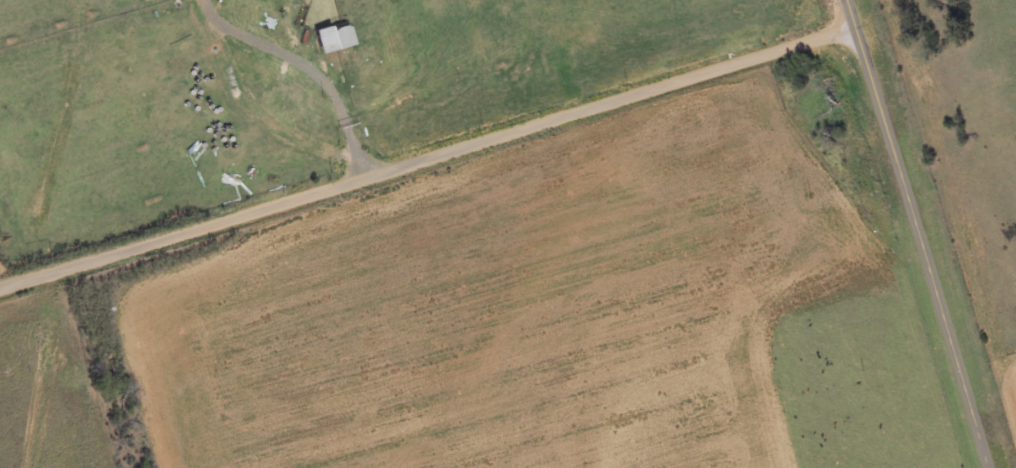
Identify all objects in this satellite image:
road: (714, 70)
road: (285, 197)
road: (918, 233)

